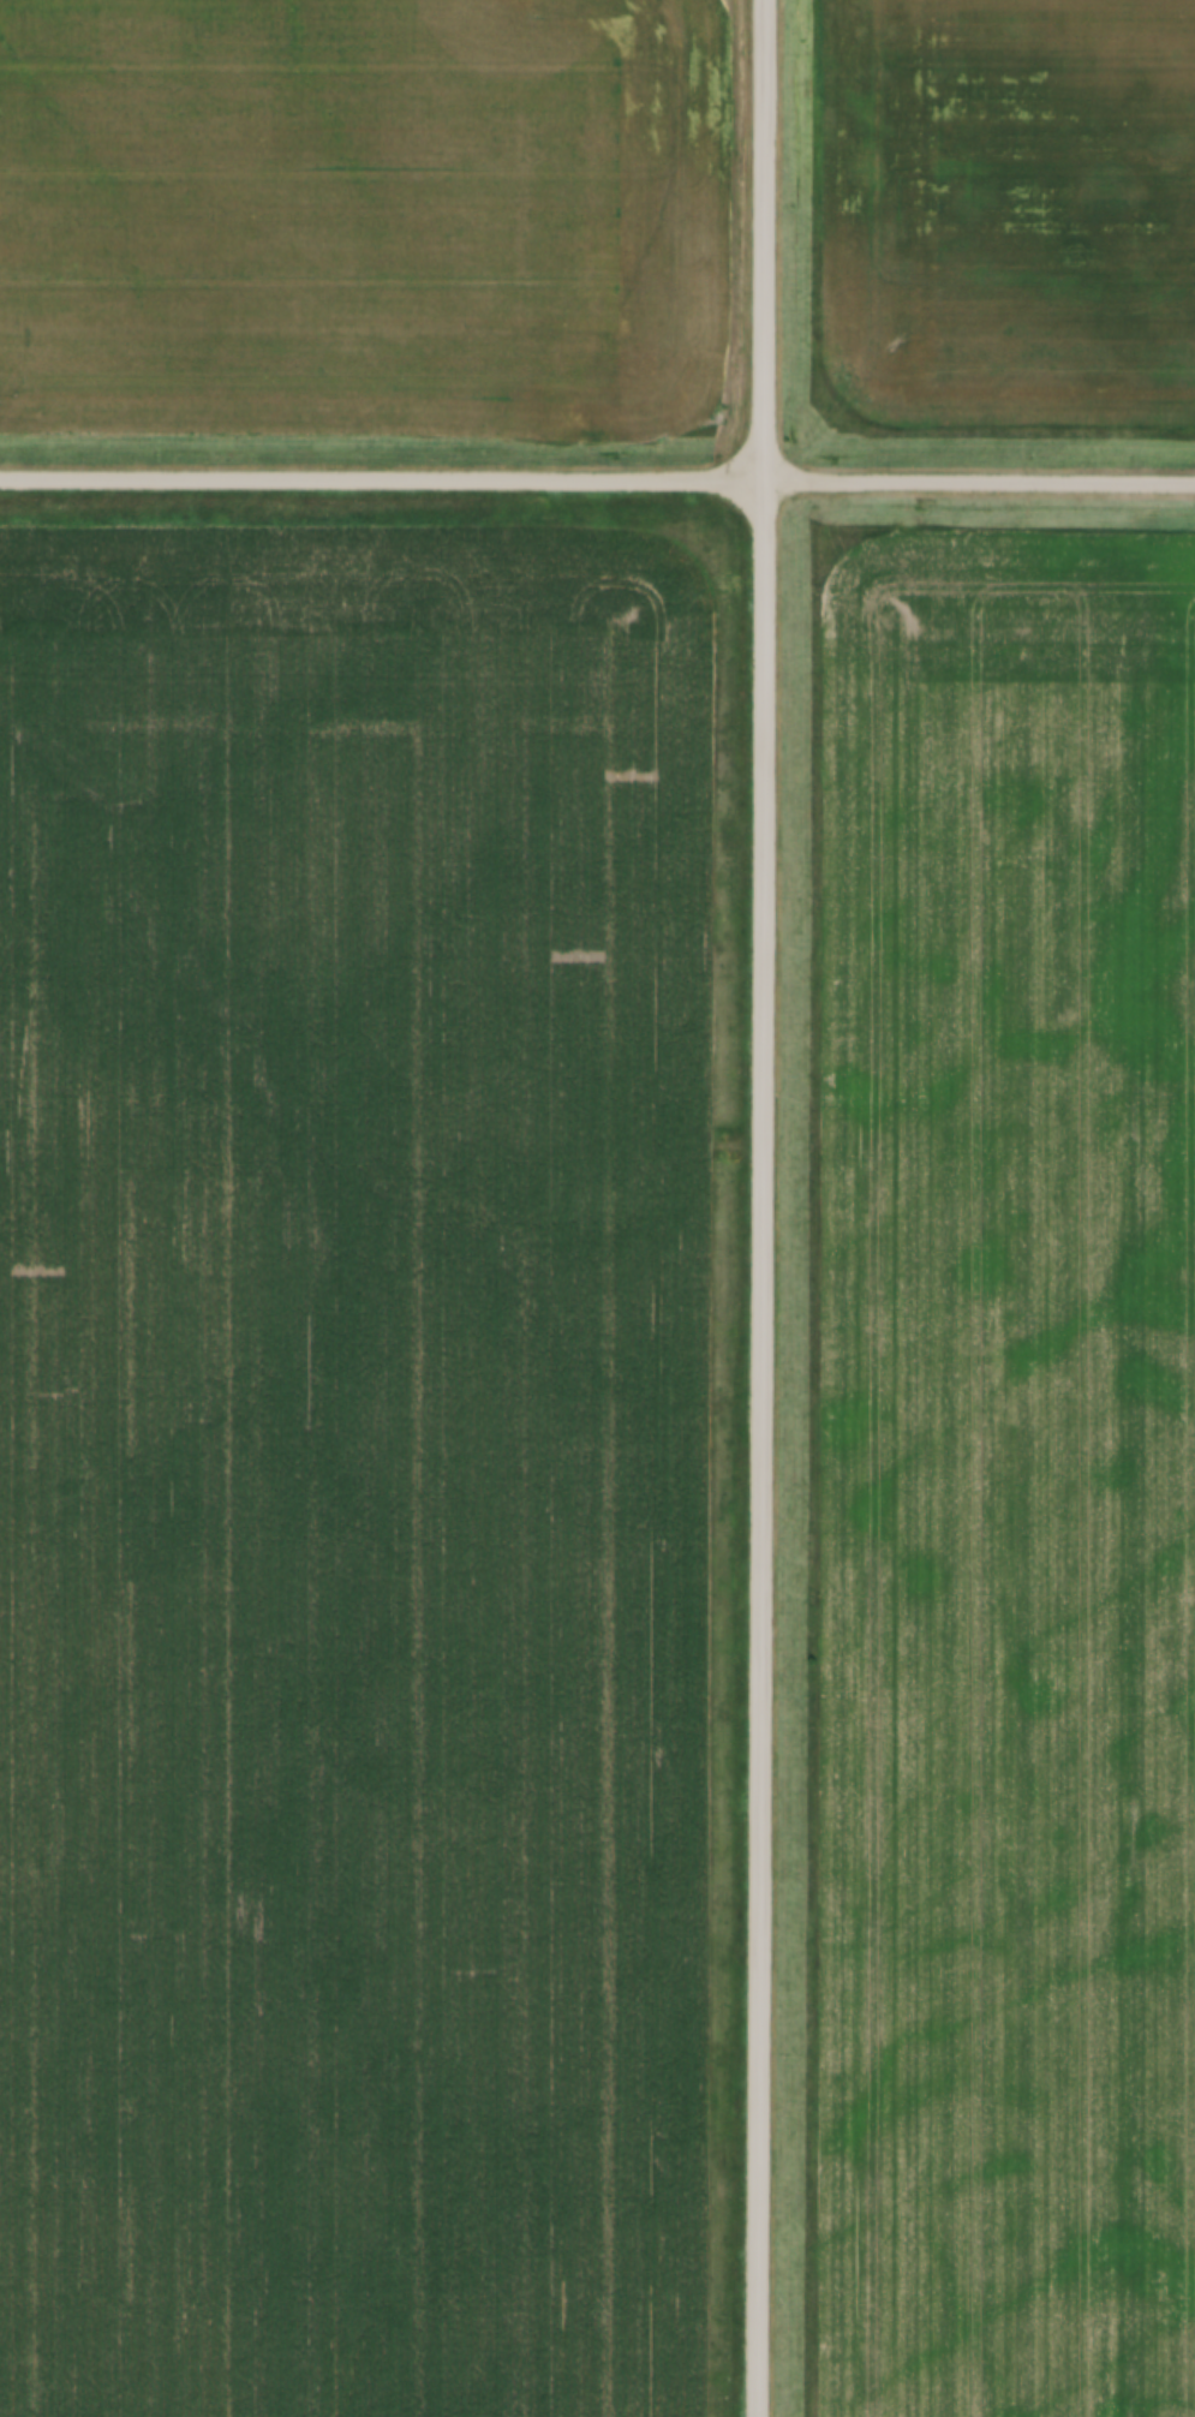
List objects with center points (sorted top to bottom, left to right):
road: (597, 481)
road: (760, 1208)

